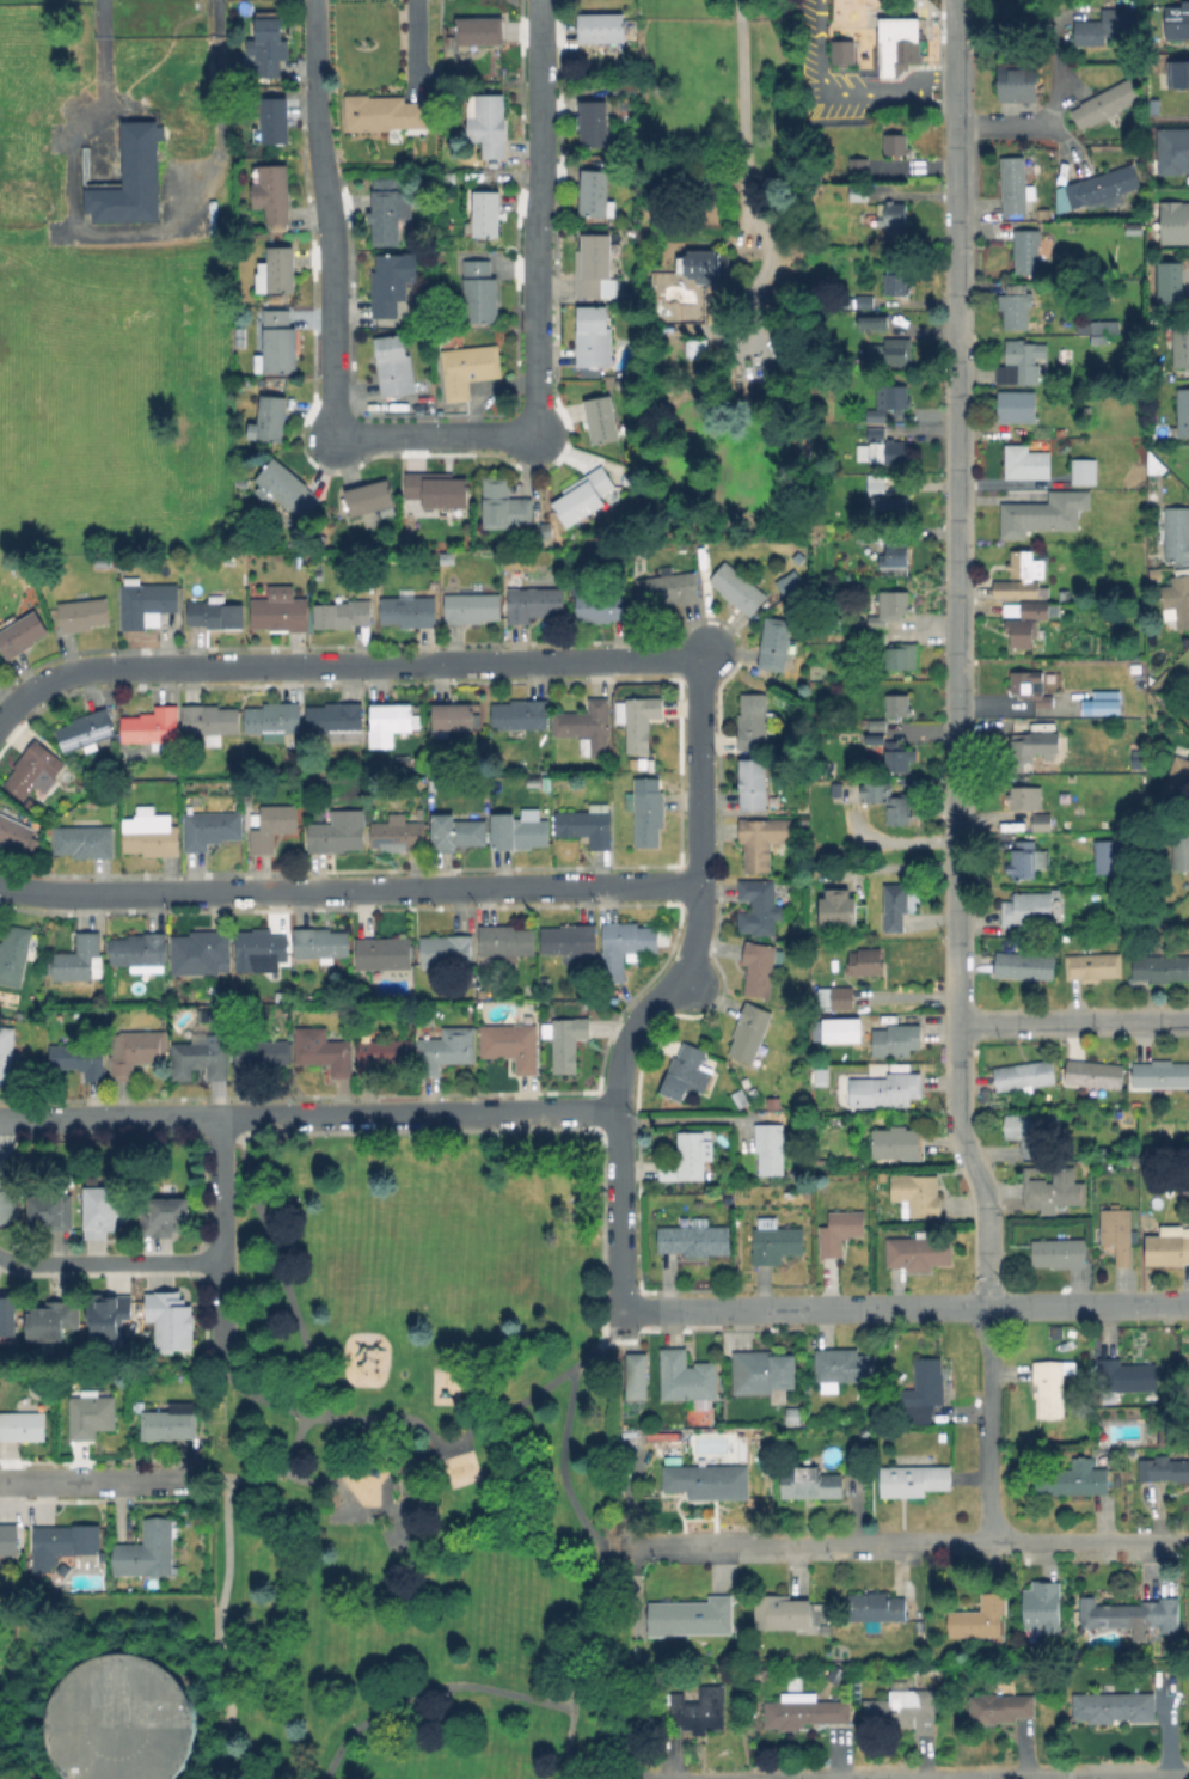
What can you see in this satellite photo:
building: (1175, 20)
building: (1108, 25)
road: (314, 26)
building: (601, 27)
building: (478, 30)
building: (899, 44)
building: (268, 47)
building: (842, 50)
road: (956, 56)
building: (1176, 73)
road: (1055, 74)
road: (96, 78)
building: (1018, 82)
building: (625, 88)
road: (826, 88)
road: (917, 88)
building: (1105, 102)
road: (314, 111)
building: (384, 114)
building: (275, 120)
road: (742, 121)
building: (488, 123)
building: (595, 123)
building: (895, 143)
building: (1171, 149)
building: (856, 165)
building: (142, 167)
road: (956, 175)
building: (1013, 185)
building: (1102, 185)
building: (272, 192)
building: (595, 192)
building: (858, 192)
building: (23, 204)
building: (486, 213)
road: (538, 213)
building: (891, 213)
building: (387, 214)
building: (1173, 222)
building: (1133, 227)
building: (1026, 250)
building: (593, 264)
building: (703, 264)
building: (280, 270)
building: (1166, 281)
building: (392, 282)
building: (895, 283)
building: (479, 292)
road: (330, 300)
building: (860, 301)
building: (1017, 306)
building: (676, 311)
building: (876, 322)
building: (1105, 325)
building: (593, 336)
building: (238, 337)
building: (277, 342)
building: (1178, 342)
building: (695, 347)
building: (891, 353)
building: (1024, 357)
building: (719, 363)
building: (393, 365)
building: (468, 368)
building: (896, 396)
building: (1016, 405)
building: (1085, 411)
building: (1182, 411)
building: (270, 418)
building: (601, 418)
building: (875, 424)
road: (433, 434)
building: (882, 451)
building: (1028, 464)
building: (1080, 472)
building: (1152, 475)
building: (627, 478)
building: (286, 488)
building: (437, 489)
building: (582, 495)
building: (369, 497)
building: (884, 497)
building: (504, 505)
building: (1044, 514)
building: (545, 530)
building: (1177, 533)
building: (875, 534)
building: (893, 555)
building: (122, 561)
building: (1154, 573)
building: (1021, 575)
building: (667, 587)
building: (737, 587)
building: (1064, 594)
building: (1177, 595)
building: (147, 601)
building: (533, 603)
building: (599, 606)
building: (472, 607)
building: (889, 607)
building: (409, 609)
building: (280, 610)
building: (82, 612)
building: (215, 612)
building: (342, 612)
building: (1025, 623)
building: (20, 632)
building: (872, 637)
building: (774, 643)
building: (897, 656)
road: (338, 662)
building: (1135, 670)
building: (1132, 681)
building: (1028, 689)
building: (1059, 698)
building: (897, 704)
building: (1105, 705)
building: (519, 715)
building: (454, 716)
building: (209, 719)
building: (272, 719)
building: (638, 720)
building: (336, 721)
building: (752, 721)
building: (388, 722)
building: (875, 723)
building: (586, 726)
building: (152, 727)
building: (86, 730)
rooftop solar panel: (100, 733)
rooftop solar panel: (337, 736)
rooftop solar panel: (81, 738)
rooftop solar panel: (67, 742)
building: (1021, 745)
building: (232, 746)
building: (887, 751)
building: (403, 763)
building: (33, 770)
building: (1177, 781)
building: (311, 782)
building: (753, 783)
building: (431, 785)
building: (1023, 796)
building: (888, 801)
building: (646, 812)
building: (114, 819)
building: (803, 819)
building: (1040, 821)
building: (272, 825)
building: (586, 825)
building: (210, 827)
building: (456, 831)
building: (517, 831)
building: (151, 832)
building: (17, 833)
building: (335, 836)
building: (398, 836)
building: (85, 838)
building: (761, 839)
building: (1181, 843)
rooftop solar panel: (391, 850)
building: (1023, 856)
building: (1108, 856)
road: (348, 888)
road: (956, 889)
building: (894, 905)
building: (759, 906)
building: (838, 909)
building: (1025, 909)
building: (569, 939)
building: (505, 940)
building: (321, 943)
building: (261, 944)
building: (625, 946)
building: (139, 948)
building: (445, 950)
building: (16, 952)
building: (200, 952)
building: (384, 953)
building: (79, 958)
building: (863, 961)
building: (1024, 965)
building: (1092, 965)
building: (760, 967)
building: (1160, 967)
building: (545, 982)
road: (662, 986)
building: (282, 997)
building: (308, 997)
building: (838, 997)
rooftop solar panel: (203, 1015)
building: (210, 1016)
road: (1073, 1019)
building: (749, 1032)
building: (842, 1032)
building: (565, 1040)
building: (894, 1040)
building: (511, 1045)
building: (323, 1050)
building: (446, 1050)
building: (135, 1051)
building: (381, 1053)
building: (6, 1054)
building: (259, 1054)
building: (79, 1058)
building: (202, 1058)
building: (686, 1072)
building: (1160, 1072)
building: (1093, 1074)
building: (1024, 1075)
building: (821, 1081)
building: (895, 1088)
building: (740, 1096)
road: (308, 1113)
road: (692, 1119)
road: (232, 1127)
building: (1031, 1130)
building: (897, 1142)
building: (770, 1148)
building: (686, 1157)
building: (1052, 1187)
building: (807, 1191)
building: (790, 1192)
building: (917, 1192)
building: (6, 1200)
building: (102, 1211)
building: (53, 1213)
building: (167, 1218)
building: (839, 1230)
building: (1116, 1233)
road: (217, 1236)
building: (694, 1239)
building: (776, 1243)
building: (1167, 1246)
building: (919, 1251)
building: (1058, 1252)
road: (109, 1261)
road: (903, 1304)
building: (7, 1316)
building: (105, 1318)
building: (50, 1321)
building: (171, 1321)
road: (612, 1327)
road: (255, 1339)
building: (842, 1367)
building: (762, 1373)
building: (1126, 1375)
building: (638, 1377)
building: (686, 1377)
building: (1050, 1386)
building: (923, 1390)
road: (519, 1399)
building: (90, 1416)
road: (378, 1417)
building: (171, 1426)
building: (23, 1428)
building: (1170, 1433)
park: (428, 1461)
building: (1163, 1468)
road: (202, 1477)
building: (1073, 1479)
road: (90, 1480)
building: (707, 1480)
building: (912, 1480)
building: (810, 1482)
road: (594, 1534)
road: (907, 1539)
road: (612, 1540)
building: (10, 1542)
building: (65, 1546)
building: (147, 1551)
road: (446, 1570)
building: (1188, 1602)
building: (875, 1608)
building: (1043, 1608)
building: (780, 1612)
building: (1130, 1618)
building: (692, 1619)
building: (977, 1619)
road: (217, 1628)
rooftop solar panel: (895, 1686)
road: (541, 1700)
building: (1113, 1706)
building: (901, 1707)
building: (1001, 1707)
building: (699, 1712)
building: (805, 1712)
road: (368, 1717)
building: (119, 1719)
water tower: (123, 1723)
road: (1165, 1728)
building: (4, 1763)
road: (1001, 1775)

